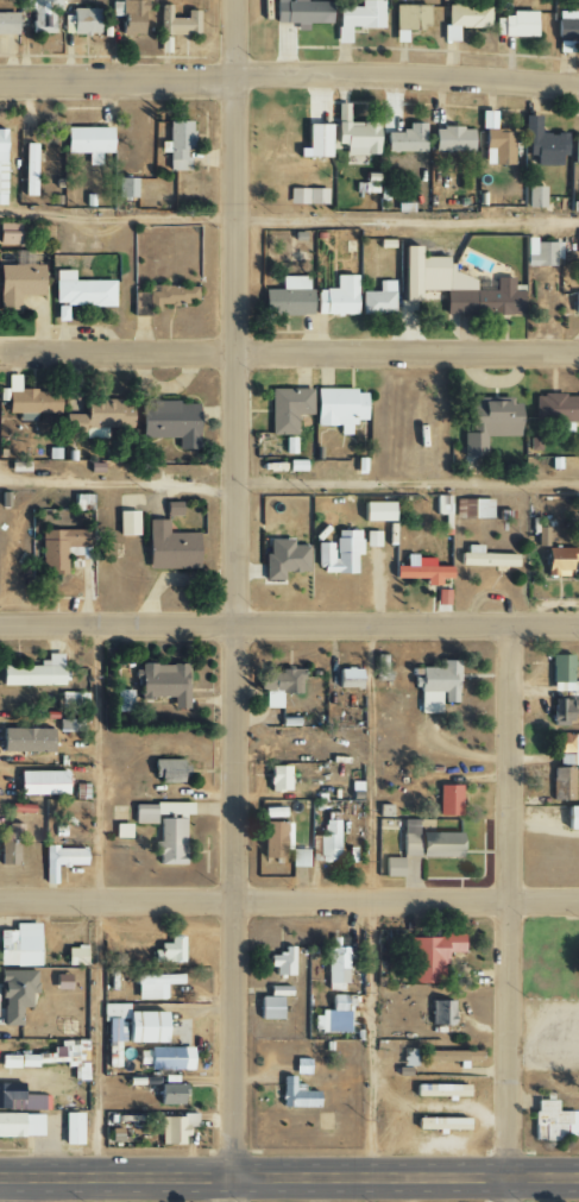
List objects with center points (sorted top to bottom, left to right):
building: (300, 12)
building: (40, 13)
building: (128, 15)
building: (357, 18)
building: (464, 18)
building: (80, 21)
building: (180, 23)
building: (7, 24)
building: (516, 24)
building: (567, 25)
road: (289, 77)
building: (341, 112)
building: (357, 137)
building: (402, 137)
building: (451, 139)
building: (316, 140)
building: (87, 141)
building: (495, 141)
building: (543, 143)
building: (176, 145)
building: (575, 150)
building: (1, 165)
building: (29, 169)
building: (366, 184)
building: (126, 187)
building: (307, 196)
building: (535, 196)
road: (289, 220)
building: (7, 233)
building: (541, 253)
building: (18, 284)
building: (454, 287)
building: (81, 290)
building: (161, 297)
building: (288, 297)
building: (336, 297)
building: (378, 300)
building: (575, 303)
road: (289, 347)
building: (32, 401)
building: (338, 408)
building: (555, 408)
building: (287, 409)
building: (99, 417)
building: (169, 422)
building: (487, 424)
road: (407, 484)
building: (82, 502)
building: (441, 504)
building: (477, 508)
building: (171, 509)
building: (376, 511)
building: (127, 523)
building: (541, 536)
building: (371, 539)
building: (169, 547)
building: (62, 548)
building: (338, 553)
building: (484, 558)
building: (283, 559)
building: (556, 561)
building: (578, 569)
building: (420, 572)
building: (442, 598)
road: (234, 600)
road: (289, 625)
building: (380, 668)
building: (33, 673)
building: (562, 675)
building: (347, 678)
building: (163, 684)
building: (279, 686)
building: (436, 686)
building: (74, 700)
building: (125, 700)
building: (564, 710)
building: (69, 725)
building: (26, 740)
building: (568, 749)
building: (168, 770)
building: (277, 779)
building: (40, 783)
building: (561, 785)
building: (448, 800)
building: (571, 818)
building: (165, 827)
building: (121, 831)
building: (273, 839)
building: (328, 842)
building: (429, 844)
building: (10, 845)
building: (298, 858)
building: (59, 860)
building: (392, 867)
road: (289, 896)
road: (100, 900)
road: (370, 902)
road: (503, 913)
building: (19, 945)
building: (169, 951)
building: (75, 956)
building: (429, 957)
building: (282, 962)
building: (335, 968)
building: (61, 982)
building: (152, 984)
building: (14, 994)
building: (271, 1003)
building: (441, 1013)
building: (333, 1017)
building: (50, 1056)
building: (452, 1056)
building: (164, 1058)
building: (170, 1090)
building: (440, 1090)
building: (296, 1095)
building: (24, 1102)
building: (553, 1121)
building: (440, 1124)
building: (20, 1125)
building: (71, 1128)
building: (176, 1128)
road: (289, 1178)

